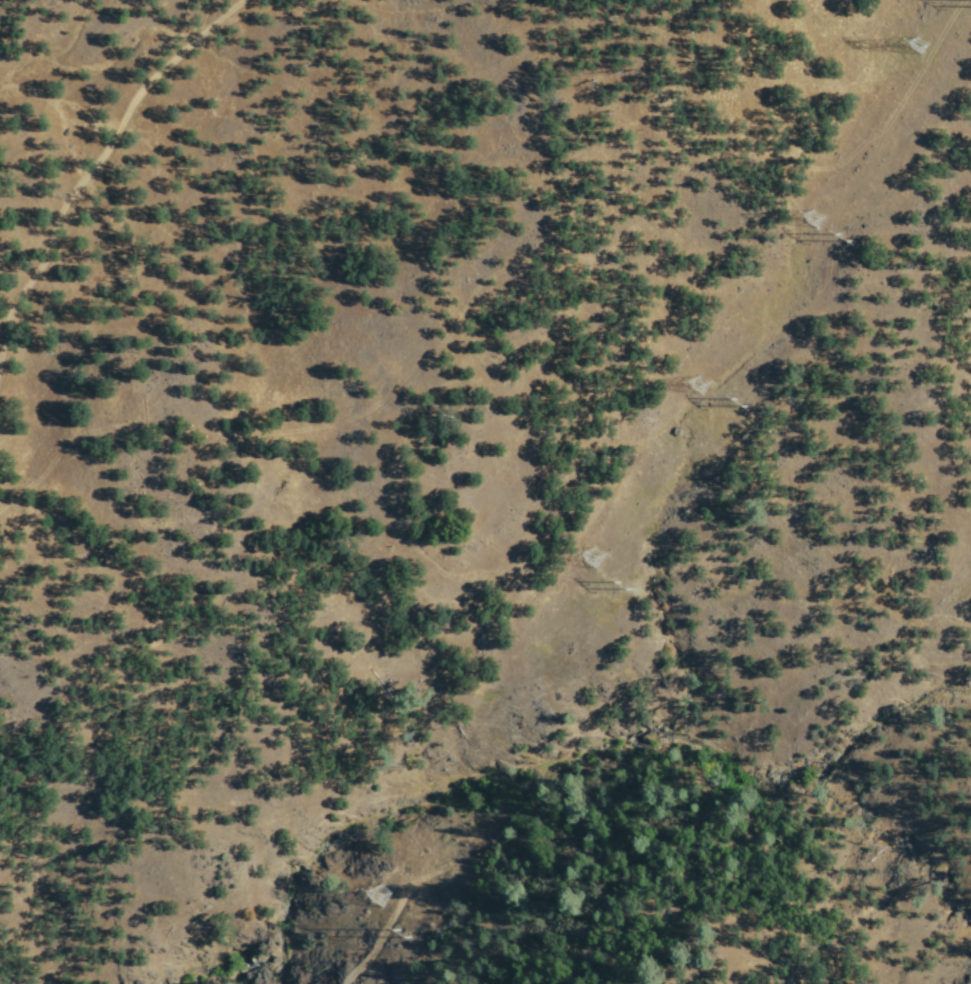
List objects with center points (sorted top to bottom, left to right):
power tower: (930, 53)
road: (98, 154)
power tower: (822, 229)
power tower: (854, 243)
power tower: (710, 394)
power tower: (749, 409)
power tower: (597, 575)
power tower: (631, 599)
power tower: (388, 902)
power tower: (411, 943)

